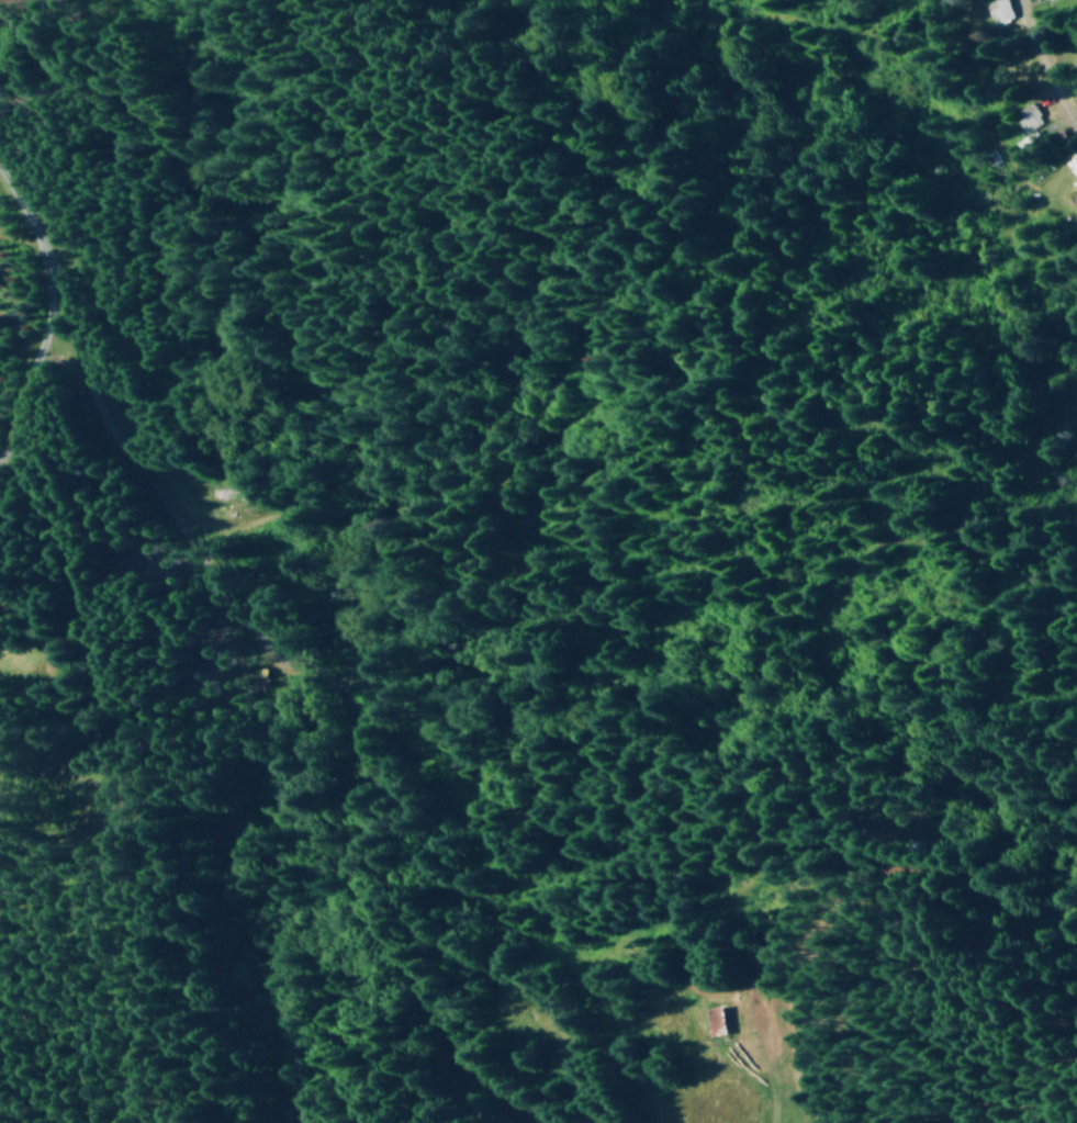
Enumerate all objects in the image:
building: (1072, 164)
road: (226, 734)
building: (711, 1021)

